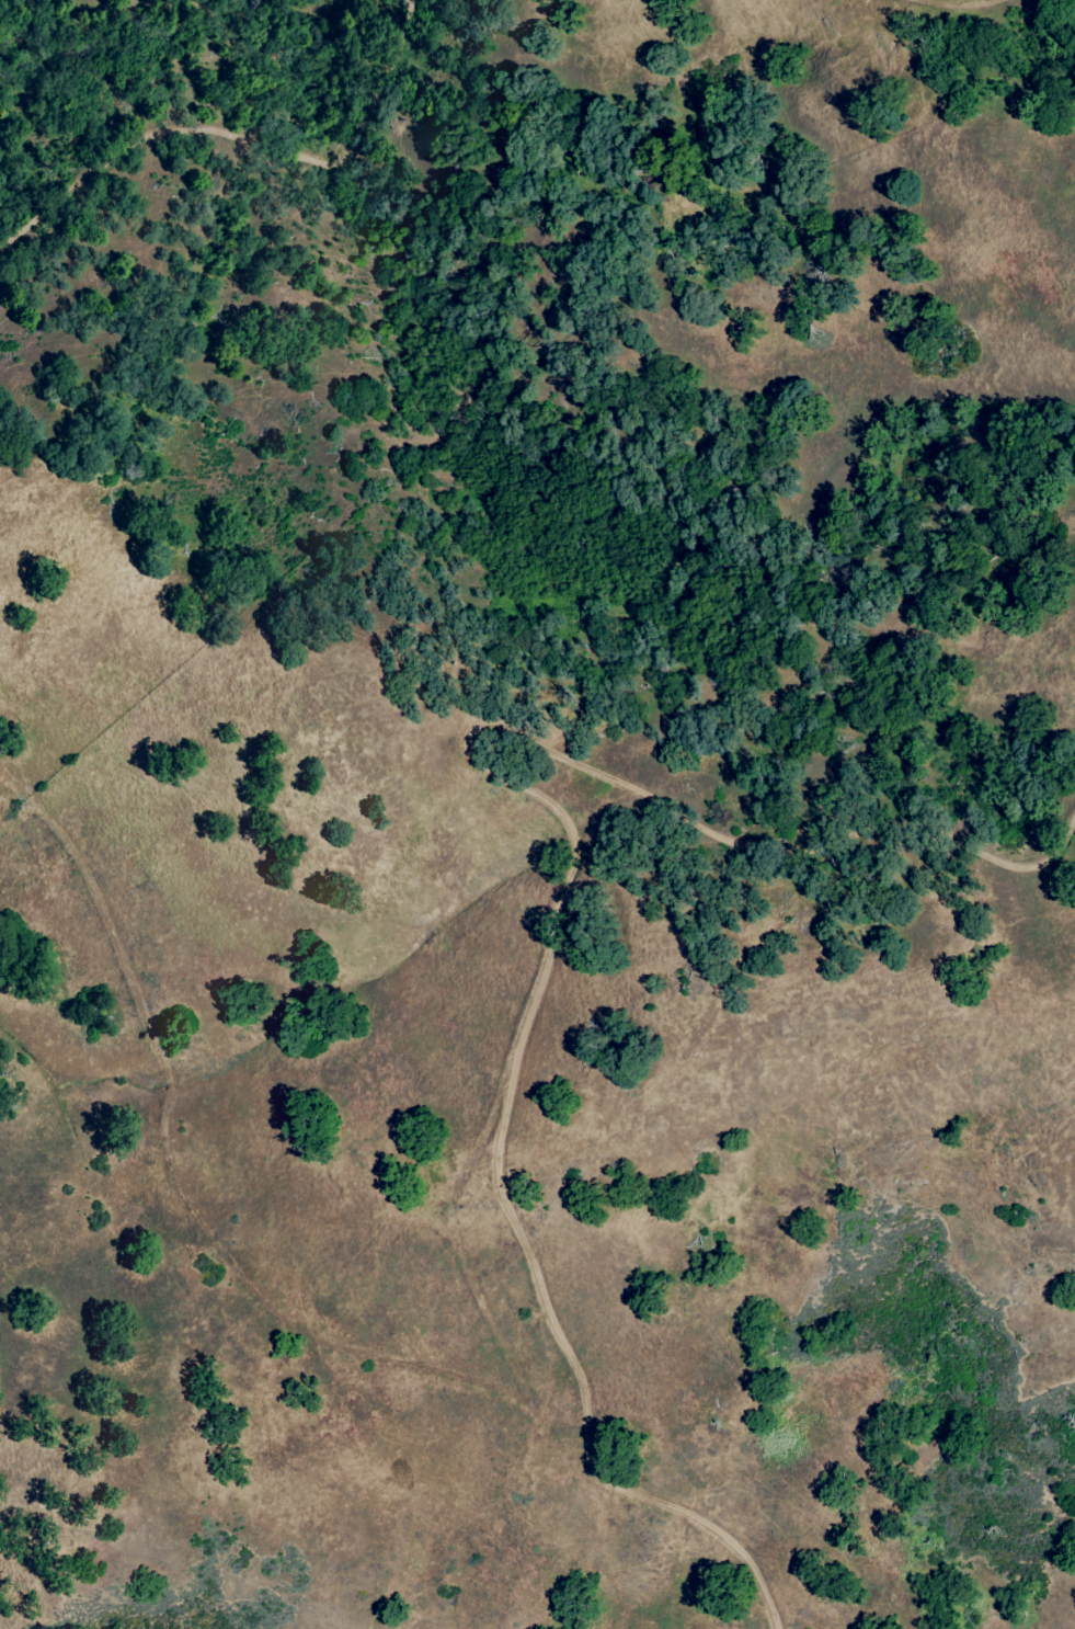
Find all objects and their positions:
road: (945, 8)
road: (247, 146)
road: (556, 878)

